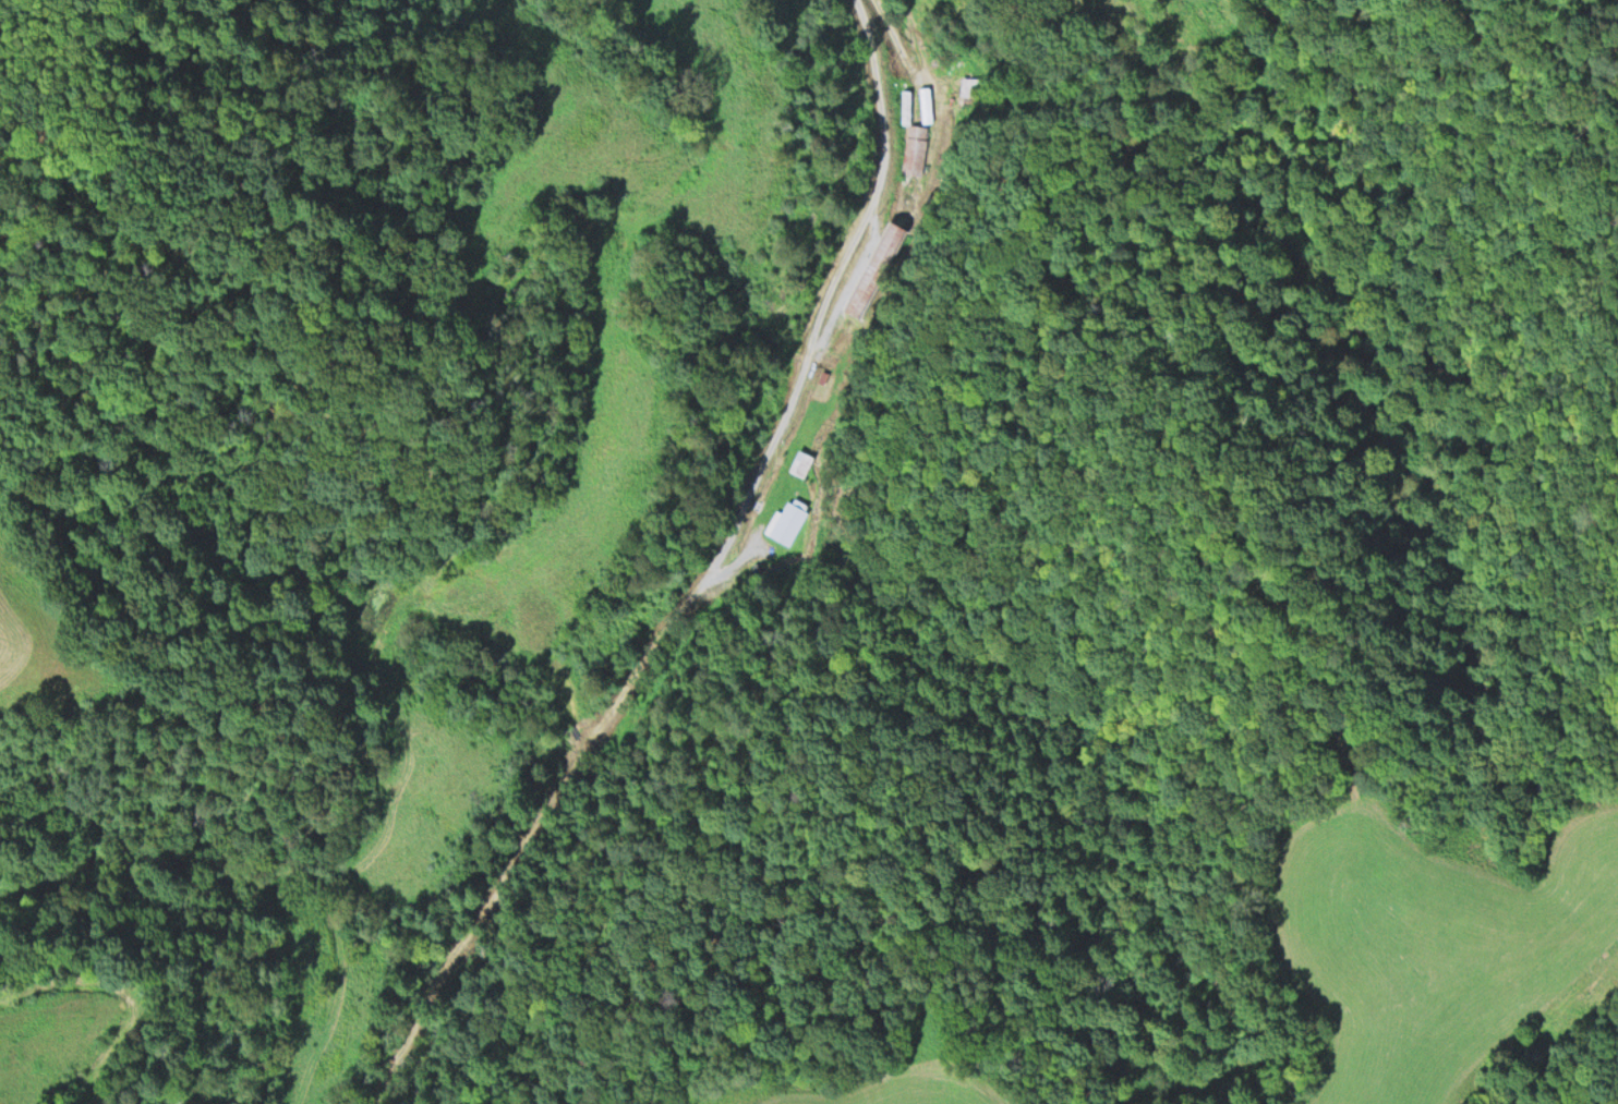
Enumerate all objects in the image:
road: (915, 68)
building: (969, 86)
building: (914, 148)
building: (874, 267)
building: (799, 460)
building: (785, 520)
road: (702, 577)
road: (400, 753)
road: (128, 990)

